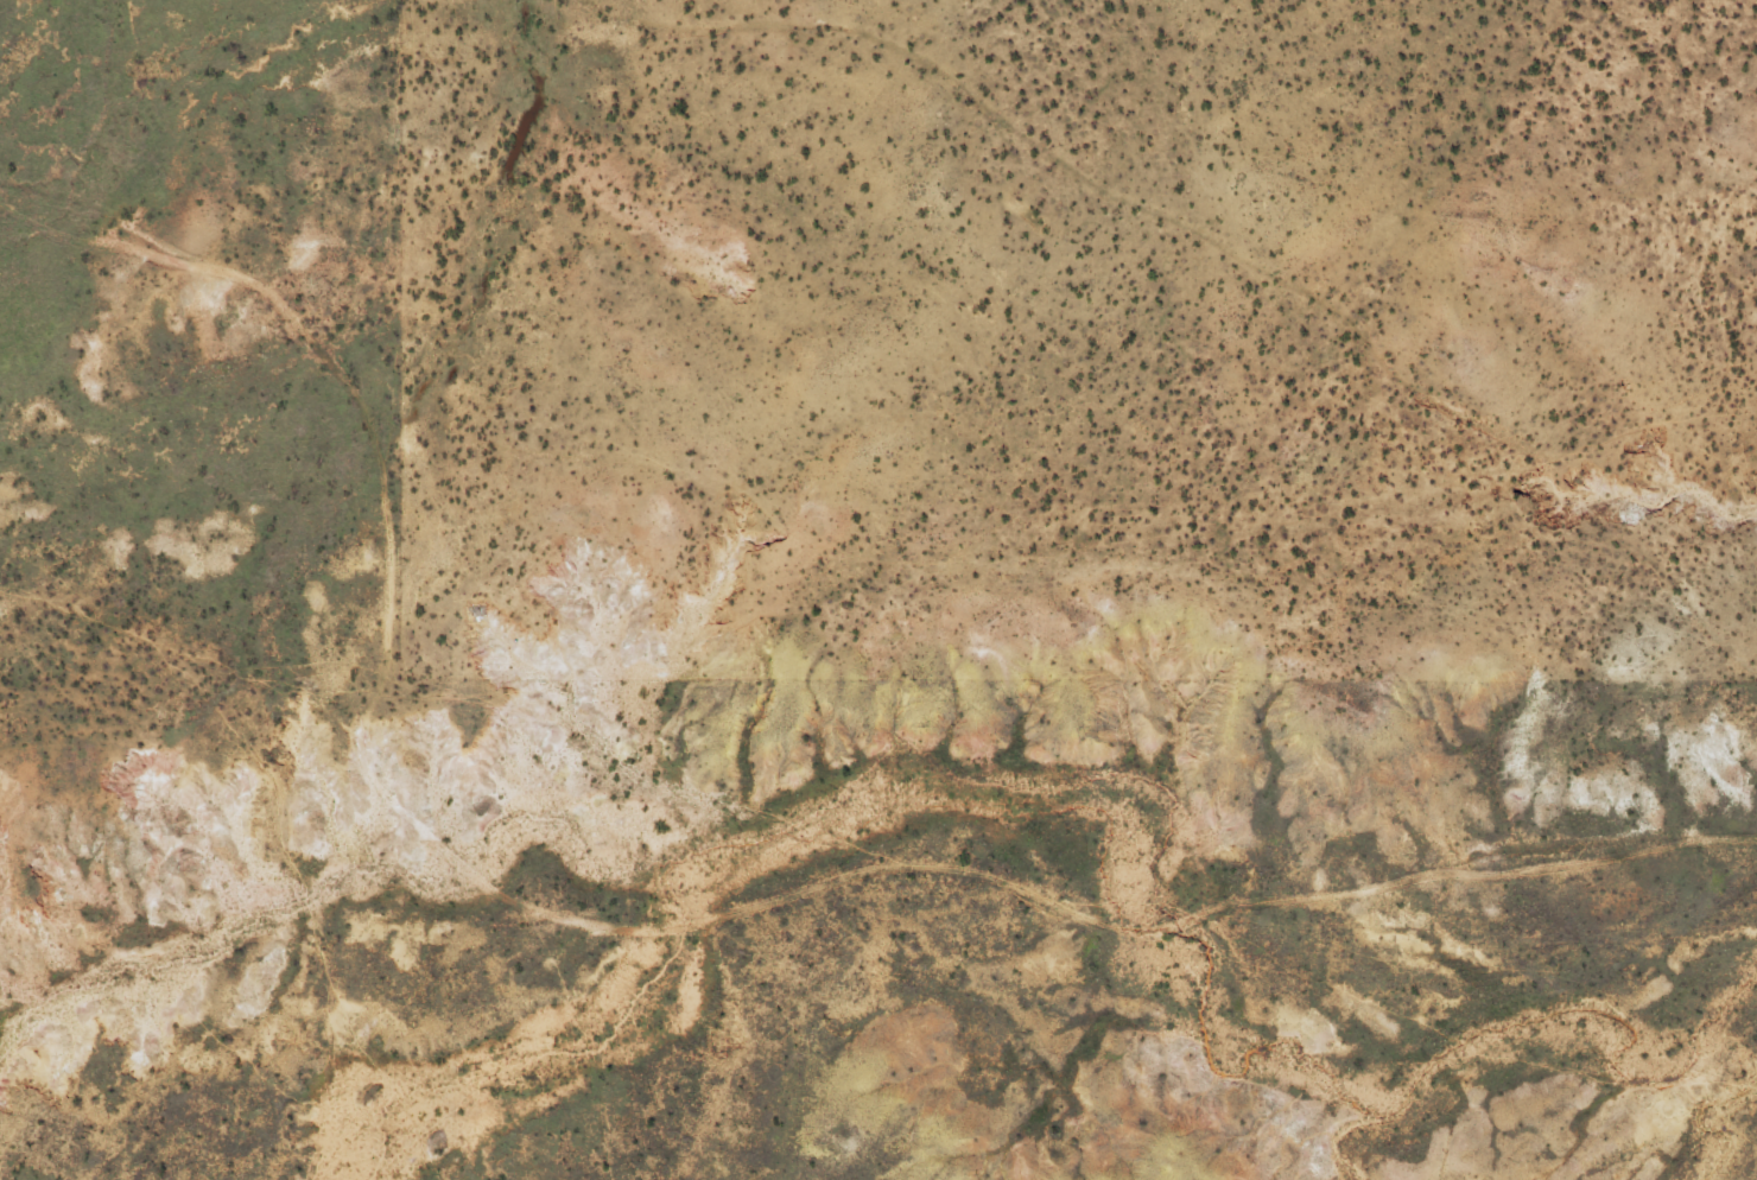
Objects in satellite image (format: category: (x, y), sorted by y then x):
road: (114, 121)
road: (1179, 267)

